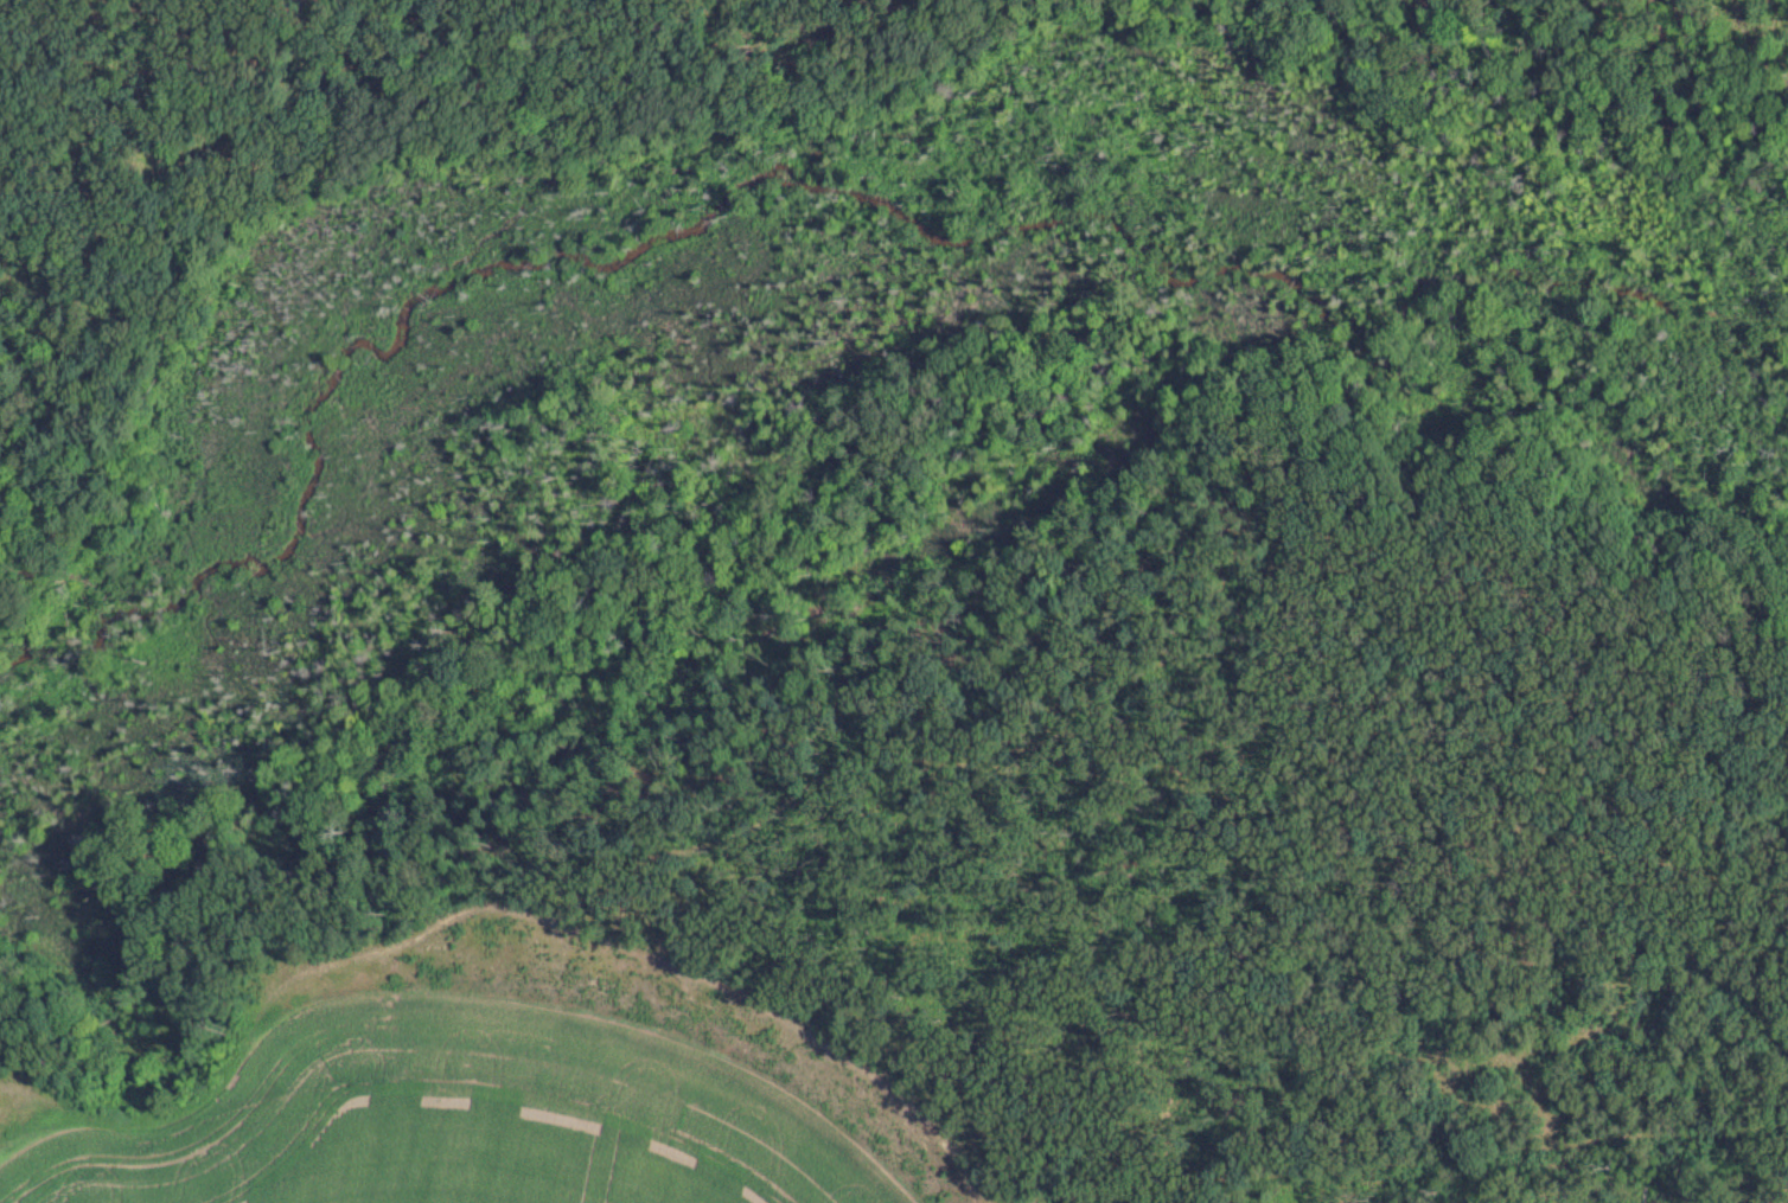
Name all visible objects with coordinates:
road: (1009, 4)
wastewater plant: (491, 1087)

